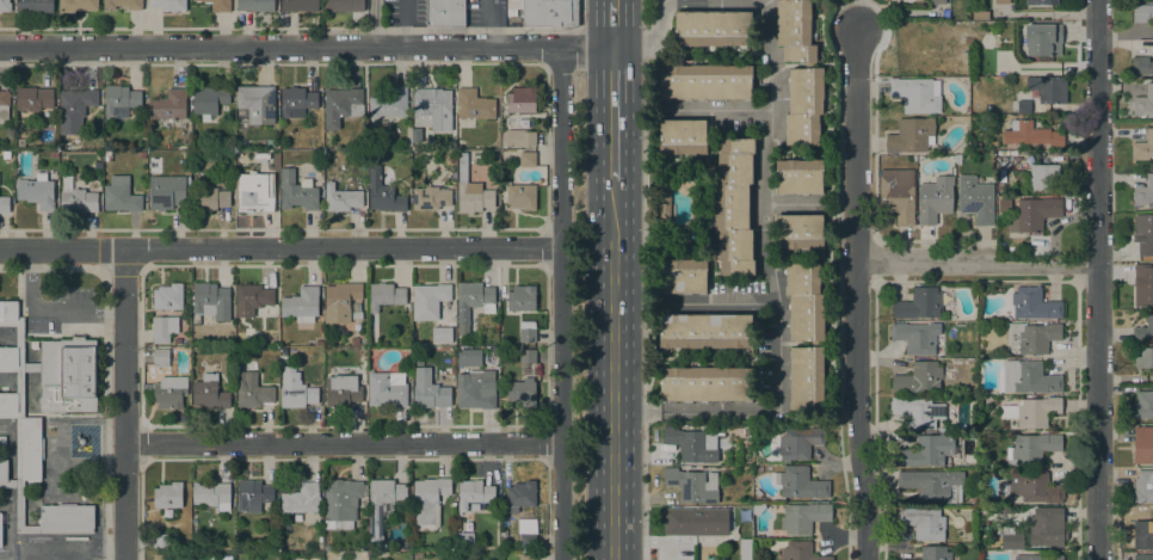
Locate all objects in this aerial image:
road: (612, 1)
building: (937, 1)
building: (1001, 1)
building: (1041, 1)
building: (123, 4)
building: (76, 5)
building: (169, 5)
building: (217, 5)
building: (255, 5)
building: (300, 5)
building: (345, 5)
building: (5, 6)
building: (35, 6)
building: (445, 12)
road: (905, 12)
building: (550, 13)
building: (1142, 13)
road: (858, 14)
building: (981, 16)
road: (372, 23)
road: (614, 25)
building: (881, 25)
road: (576, 26)
building: (713, 27)
building: (954, 29)
building: (795, 30)
building: (1043, 38)
building: (859, 45)
road: (307, 47)
building: (1142, 64)
building: (705, 81)
building: (1048, 90)
building: (918, 94)
building: (33, 98)
building: (522, 99)
building: (119, 100)
building: (209, 101)
building: (297, 101)
building: (1143, 101)
building: (257, 103)
building: (389, 103)
building: (75, 104)
building: (475, 104)
building: (4, 105)
building: (168, 105)
building: (341, 105)
building: (804, 106)
building: (1023, 106)
building: (432, 109)
building: (976, 109)
road: (612, 111)
road: (775, 122)
building: (1031, 134)
building: (911, 135)
building: (683, 136)
building: (518, 137)
building: (20, 142)
building: (68, 146)
building: (1142, 148)
building: (5, 154)
building: (54, 154)
building: (141, 154)
building: (107, 155)
building: (261, 156)
building: (382, 158)
building: (450, 158)
building: (528, 159)
building: (957, 159)
building: (1007, 159)
building: (98, 165)
building: (502, 168)
building: (800, 176)
building: (1001, 176)
building: (1044, 177)
building: (471, 190)
building: (37, 191)
building: (166, 191)
building: (297, 191)
building: (254, 192)
building: (383, 192)
building: (1143, 192)
building: (121, 195)
building: (896, 195)
building: (522, 196)
building: (341, 197)
building: (208, 198)
building: (431, 198)
building: (935, 198)
building: (975, 199)
building: (79, 201)
road: (788, 203)
building: (5, 204)
building: (664, 207)
building: (734, 207)
building: (1034, 214)
building: (800, 232)
building: (1143, 233)
road: (279, 248)
road: (978, 267)
building: (683, 276)
road: (1099, 279)
building: (1142, 284)
road: (856, 291)
building: (253, 295)
building: (386, 295)
building: (476, 295)
building: (167, 296)
building: (430, 299)
building: (522, 299)
building: (211, 300)
building: (341, 301)
building: (804, 301)
road: (722, 302)
road: (560, 303)
building: (921, 303)
building: (301, 304)
building: (1034, 304)
building: (8, 310)
building: (164, 328)
building: (707, 331)
building: (1143, 331)
building: (249, 332)
building: (526, 332)
building: (1121, 333)
building: (442, 334)
building: (1032, 337)
building: (915, 338)
building: (374, 339)
building: (178, 341)
building: (354, 341)
building: (319, 343)
building: (8, 356)
building: (528, 356)
building: (161, 357)
building: (1145, 358)
road: (106, 361)
building: (418, 365)
road: (612, 368)
building: (68, 375)
building: (807, 377)
building: (919, 377)
building: (1026, 377)
building: (319, 381)
building: (474, 381)
building: (704, 383)
building: (387, 388)
building: (167, 390)
building: (252, 390)
building: (296, 390)
building: (343, 390)
building: (522, 392)
building: (209, 393)
building: (430, 393)
building: (8, 402)
road: (125, 404)
building: (1143, 405)
road: (688, 411)
building: (917, 411)
building: (1032, 412)
building: (2, 442)
building: (800, 442)
road: (343, 443)
building: (692, 444)
building: (19, 448)
building: (31, 448)
building: (1032, 448)
building: (926, 450)
building: (1143, 453)
building: (4, 470)
building: (799, 482)
building: (692, 485)
building: (932, 485)
building: (1034, 486)
building: (1143, 486)
building: (474, 493)
building: (522, 493)
building: (211, 494)
building: (253, 494)
building: (168, 496)
building: (384, 499)
building: (302, 501)
building: (427, 503)
building: (341, 504)
building: (757, 507)
building: (984, 510)
building: (66, 516)
building: (803, 517)
building: (982, 517)
building: (696, 521)
building: (924, 522)
building: (0, 529)
building: (502, 533)
building: (526, 533)
building: (1044, 533)
building: (1143, 535)
building: (464, 539)
building: (1011, 539)
building: (161, 540)
building: (717, 542)
building: (386, 546)
building: (745, 547)
building: (800, 552)
building: (935, 553)
building: (419, 554)
building: (161, 556)
building: (528, 556)
building: (1037, 556)
building: (1143, 556)
building: (901, 559)

